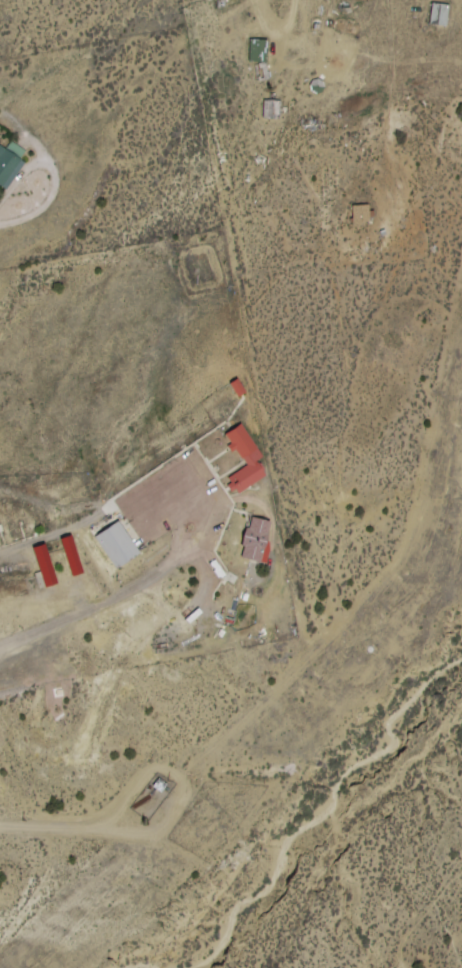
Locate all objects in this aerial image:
building: (440, 14)
building: (259, 50)
building: (267, 109)
building: (12, 162)
building: (248, 459)
building: (46, 565)
road: (100, 600)
building: (160, 785)

